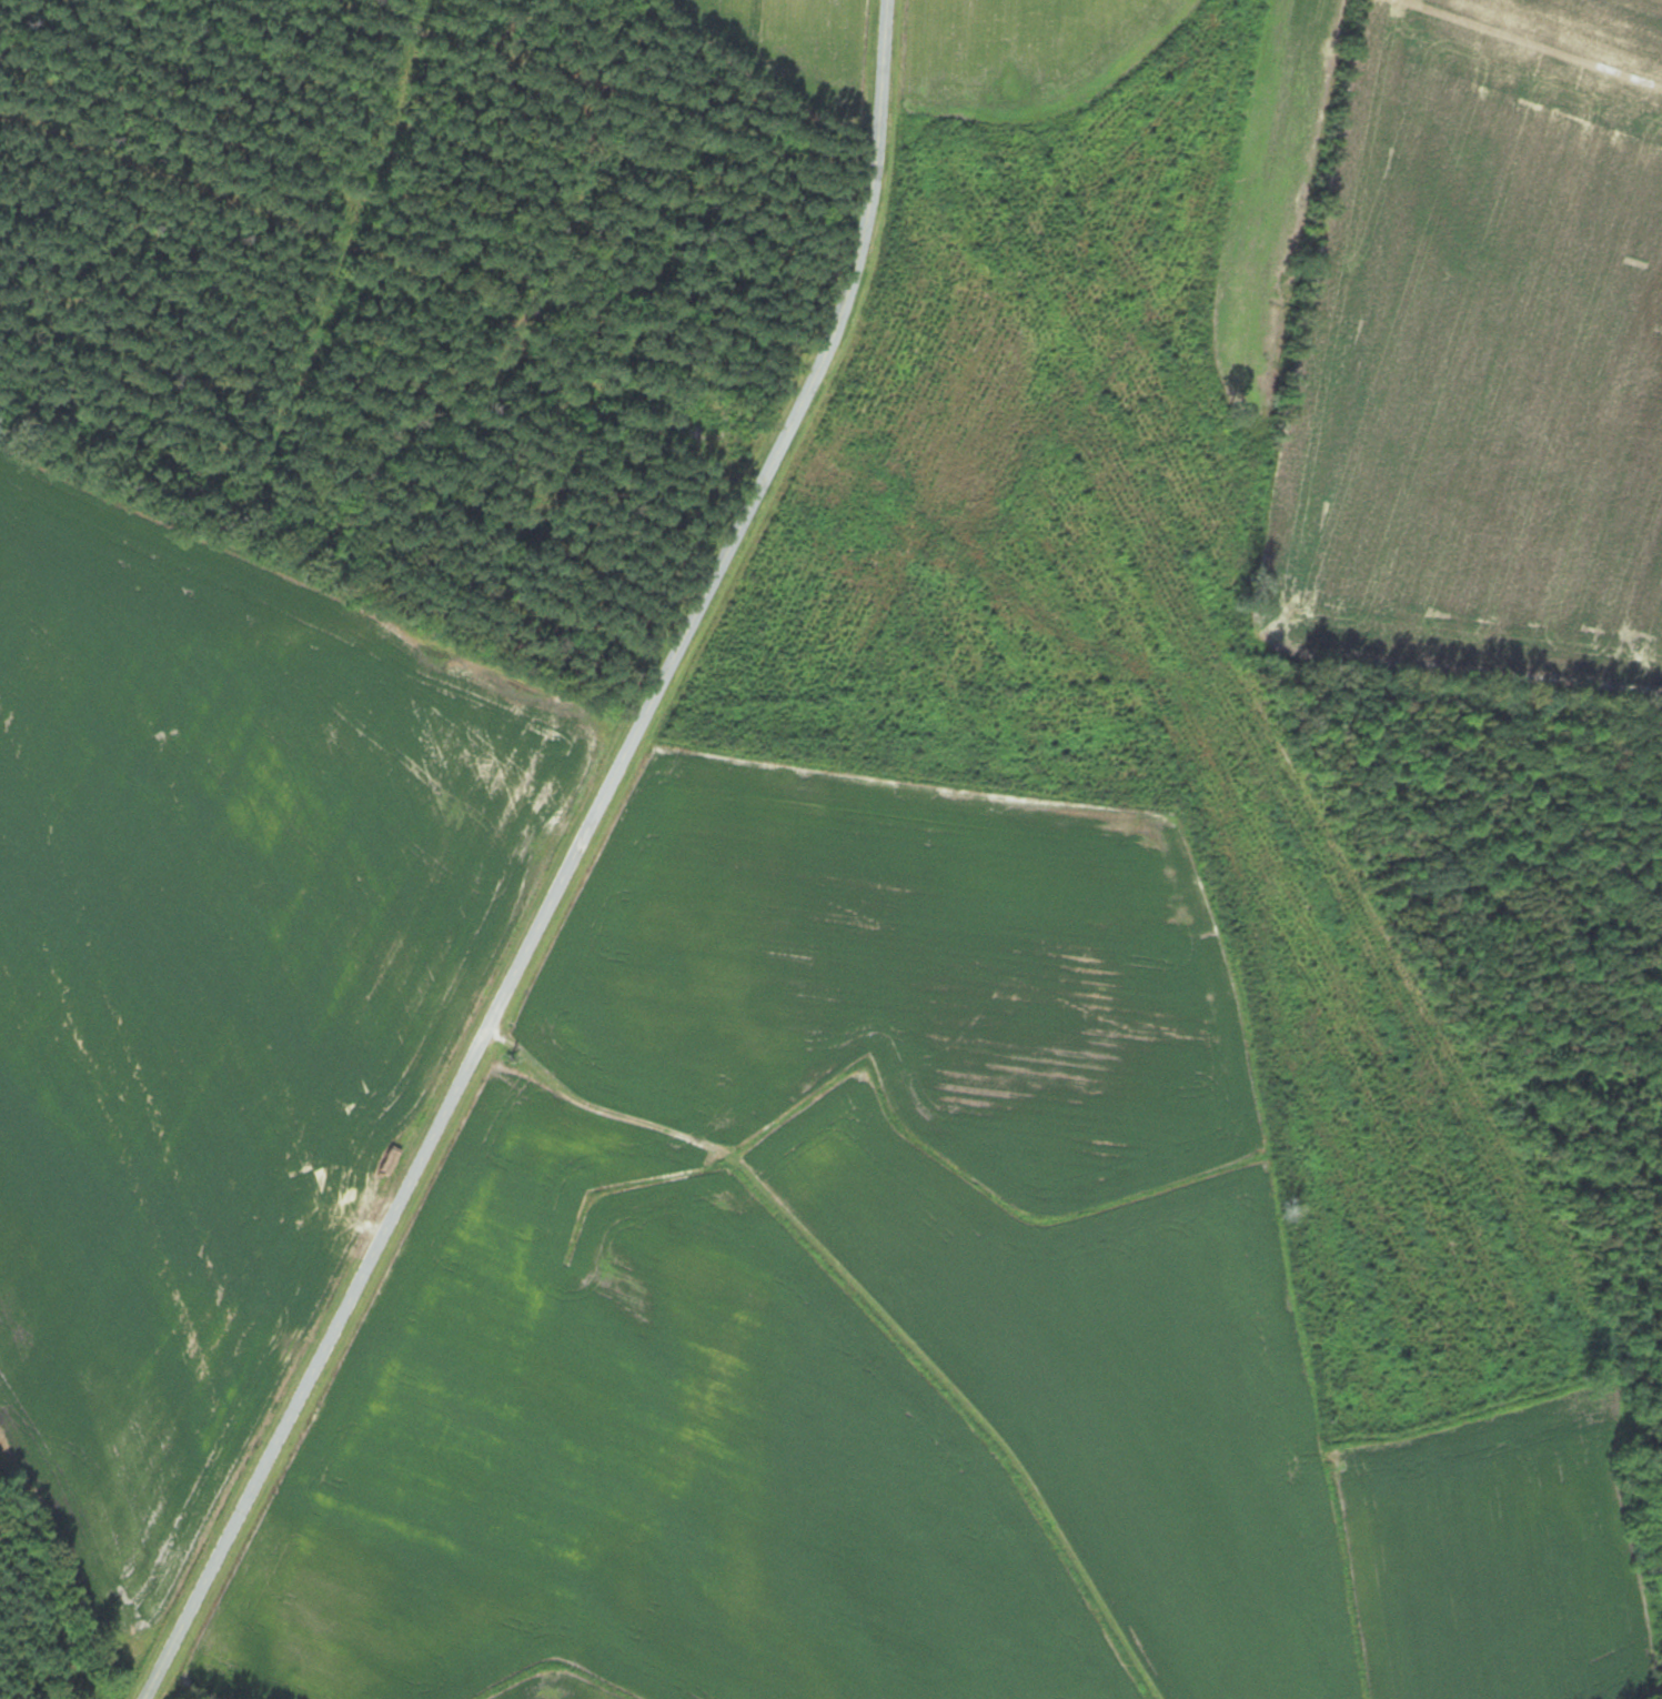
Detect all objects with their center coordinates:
road: (560, 861)

